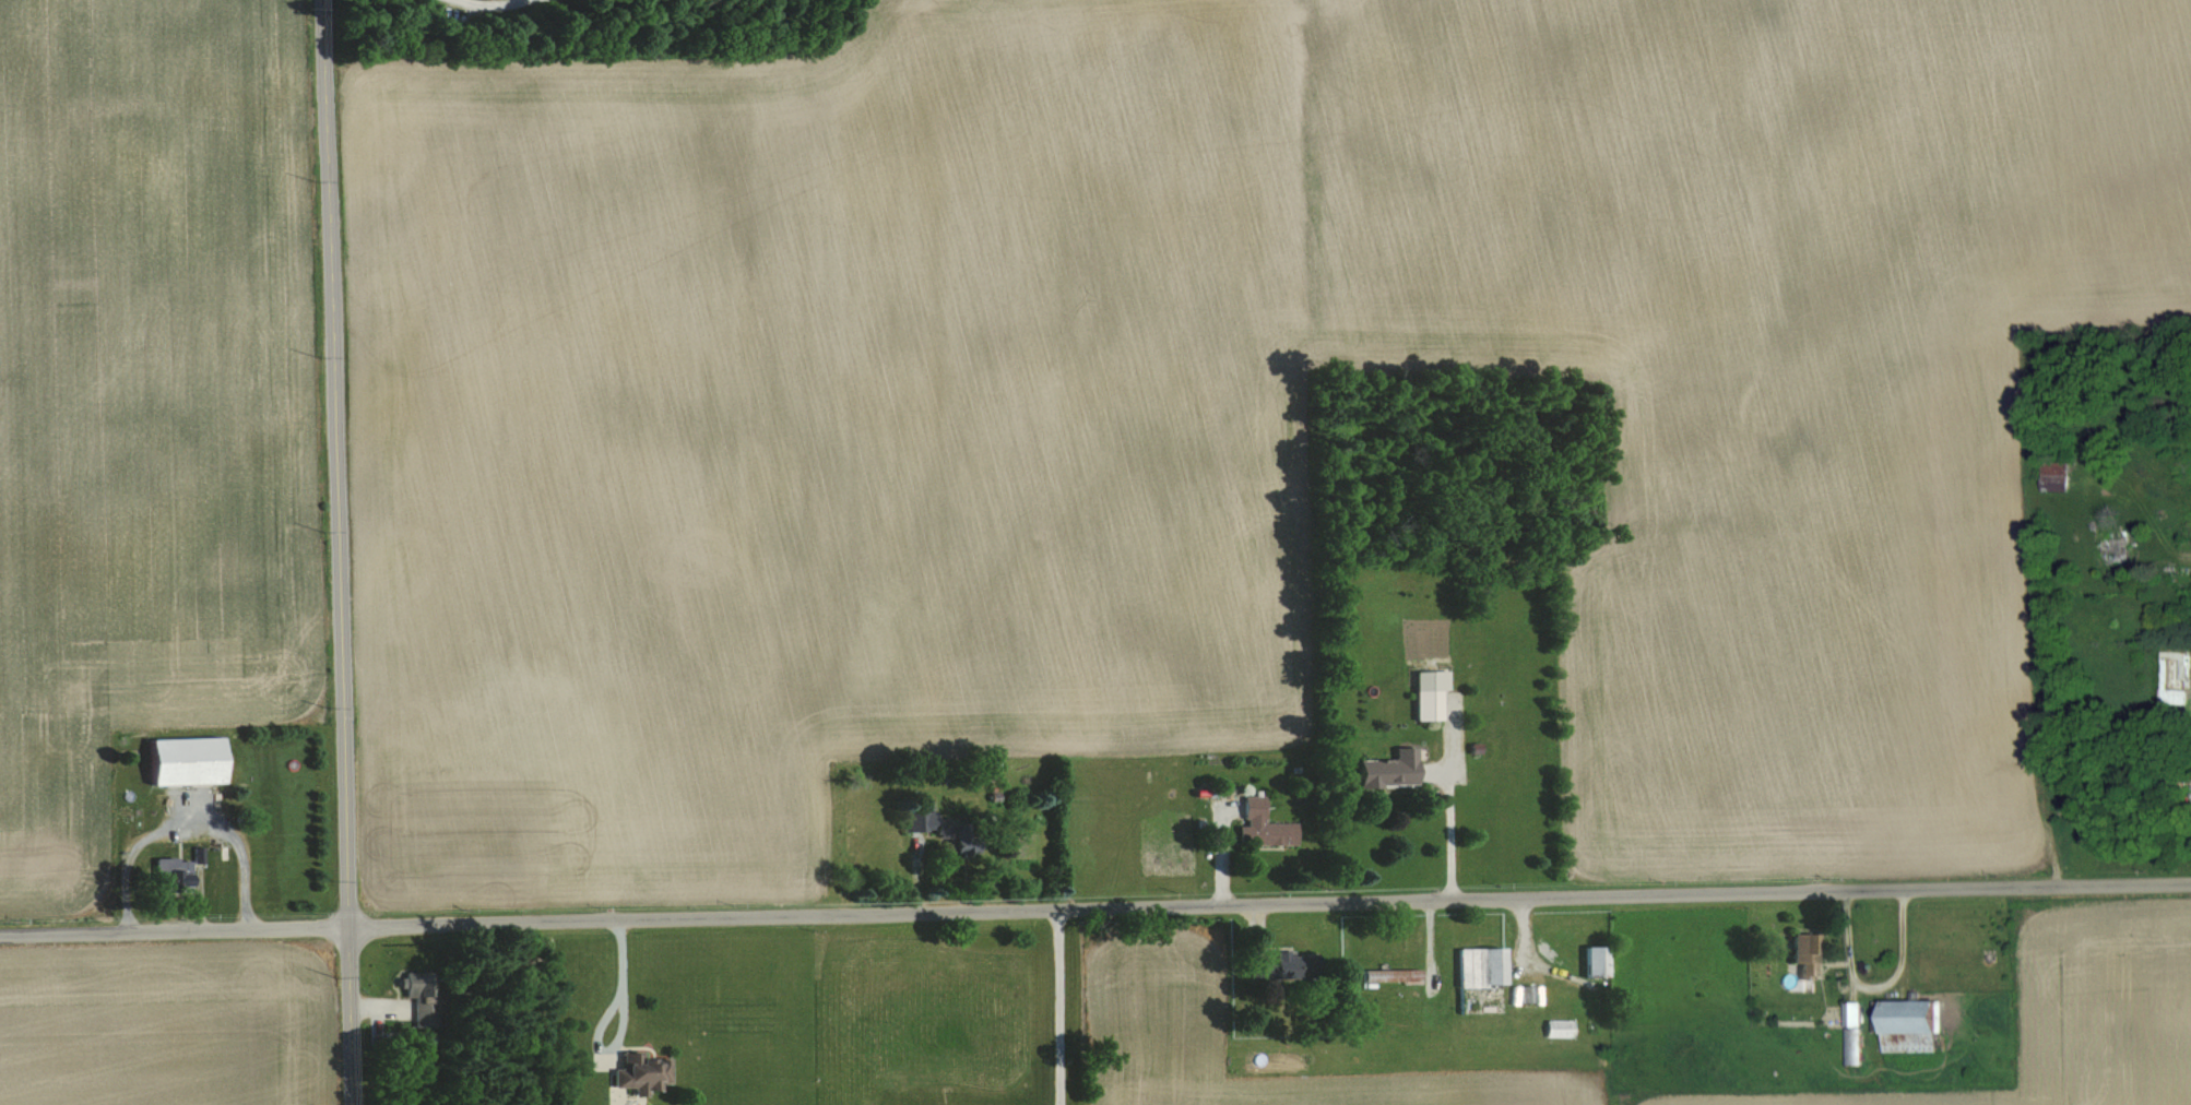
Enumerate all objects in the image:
road: (334, 463)
building: (2058, 474)
building: (2122, 545)
building: (2186, 582)
building: (1429, 704)
building: (187, 760)
building: (1390, 770)
building: (933, 821)
building: (1265, 825)
building: (175, 874)
road: (1269, 905)
road: (174, 929)
building: (1807, 953)
building: (1597, 961)
building: (1284, 965)
building: (1481, 979)
building: (424, 999)
road: (348, 1015)
building: (1914, 1025)
building: (1559, 1026)
building: (1852, 1032)
building: (642, 1071)

